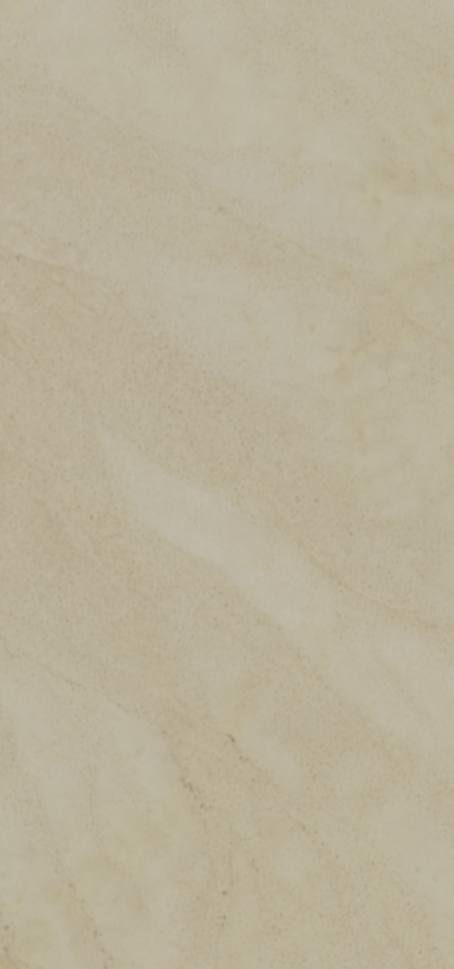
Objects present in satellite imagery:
road: (394, 835)

